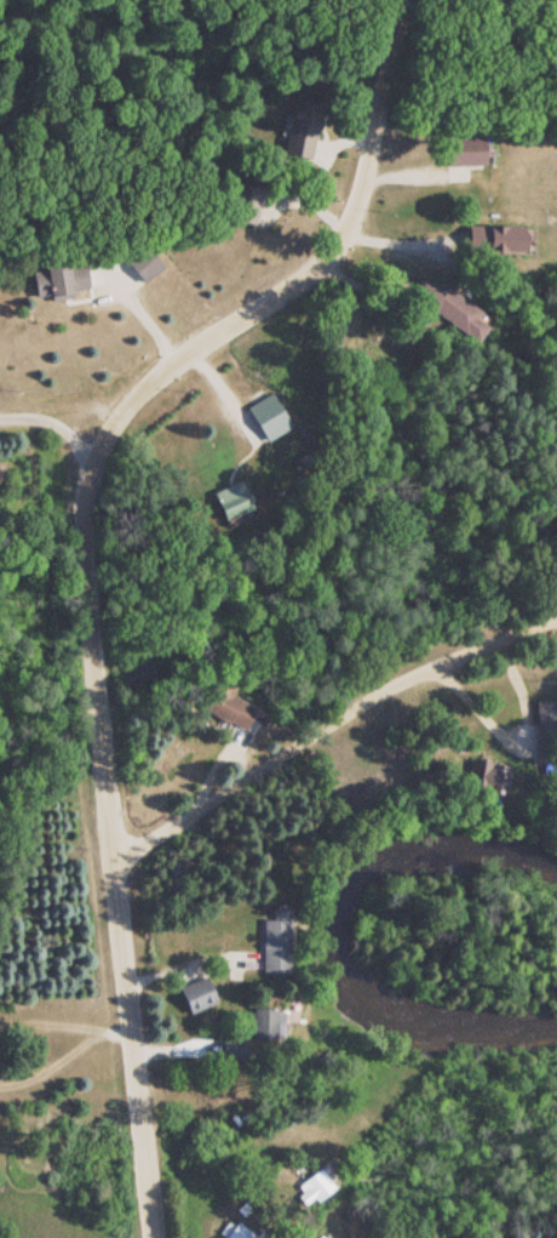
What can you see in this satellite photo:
building: (299, 129)
building: (464, 153)
building: (493, 239)
building: (140, 262)
building: (58, 280)
building: (461, 323)
road: (45, 394)
building: (257, 420)
building: (228, 496)
road: (75, 559)
road: (323, 680)
building: (235, 714)
building: (545, 735)
building: (483, 775)
river: (343, 932)
building: (272, 939)
building: (195, 994)
building: (249, 1032)
building: (314, 1186)
building: (232, 1230)
building: (461, 1234)

